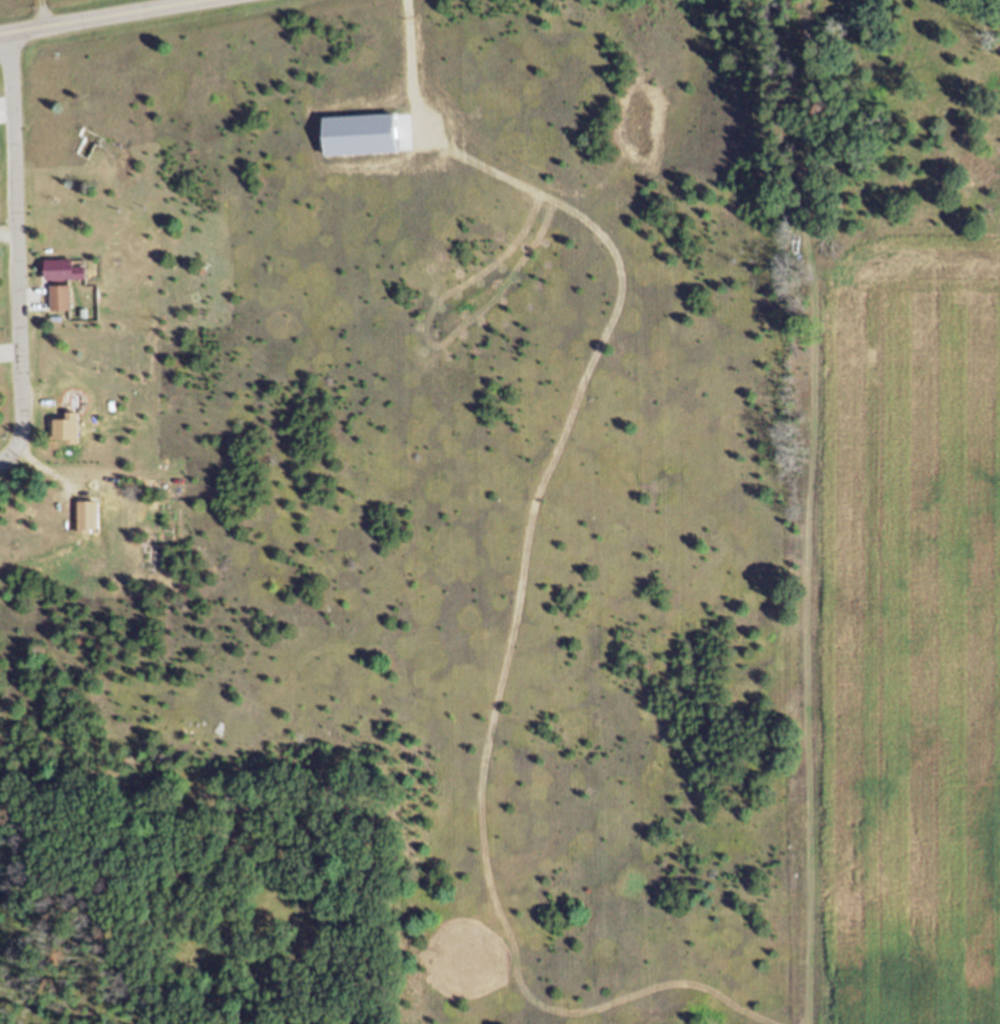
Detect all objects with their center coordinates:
road: (109, 17)
road: (407, 46)
road: (15, 253)
building: (69, 278)
building: (63, 306)
building: (71, 437)
building: (93, 526)

